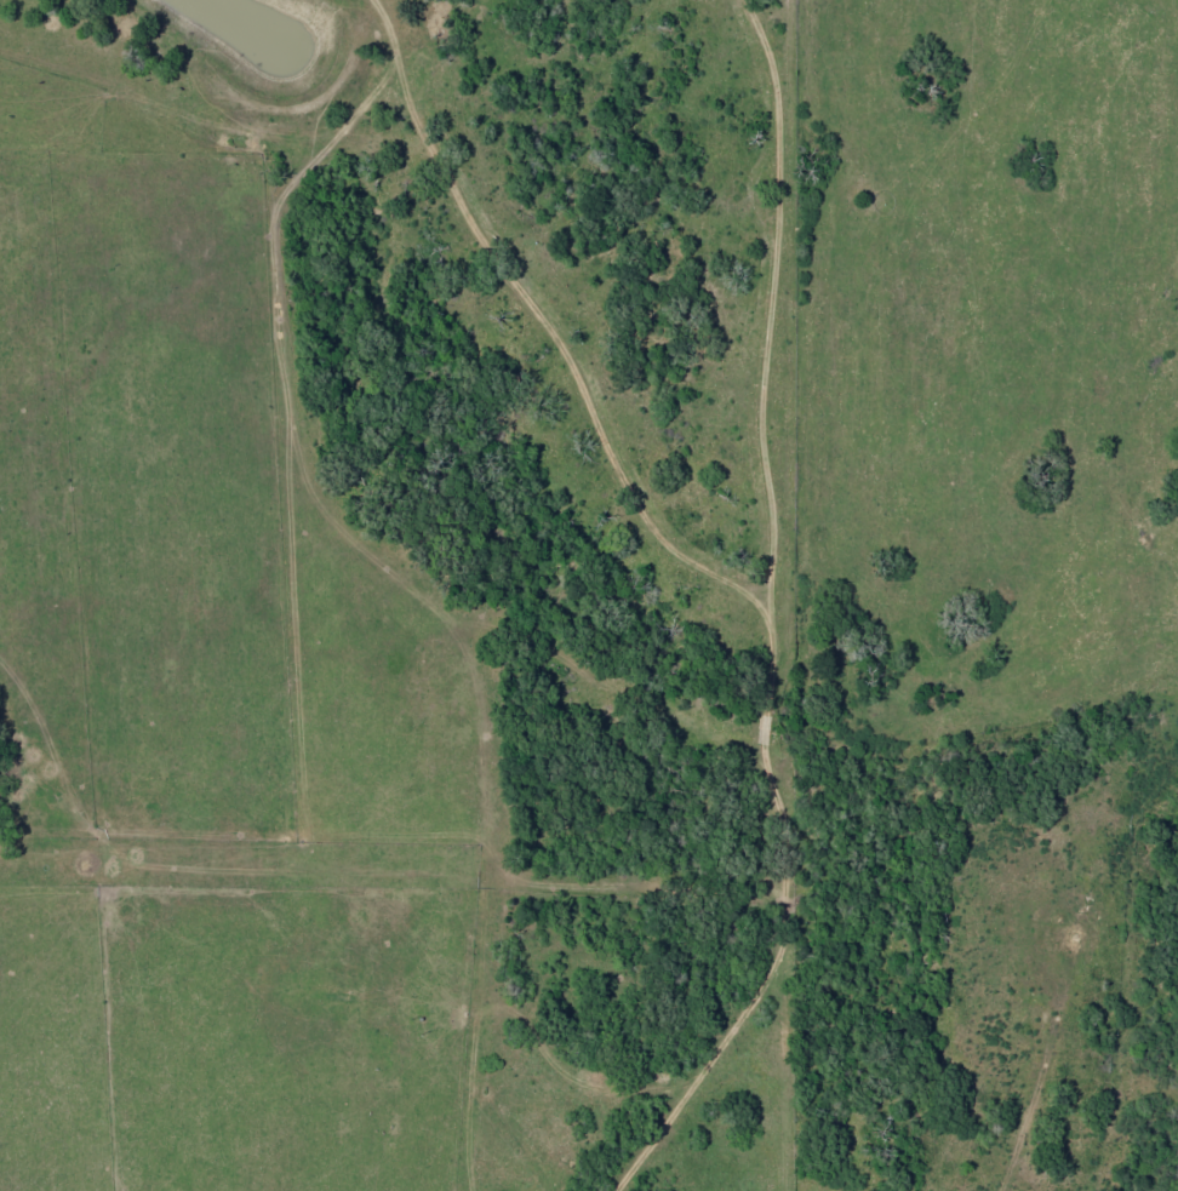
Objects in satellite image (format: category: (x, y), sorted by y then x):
road: (1176, 33)

